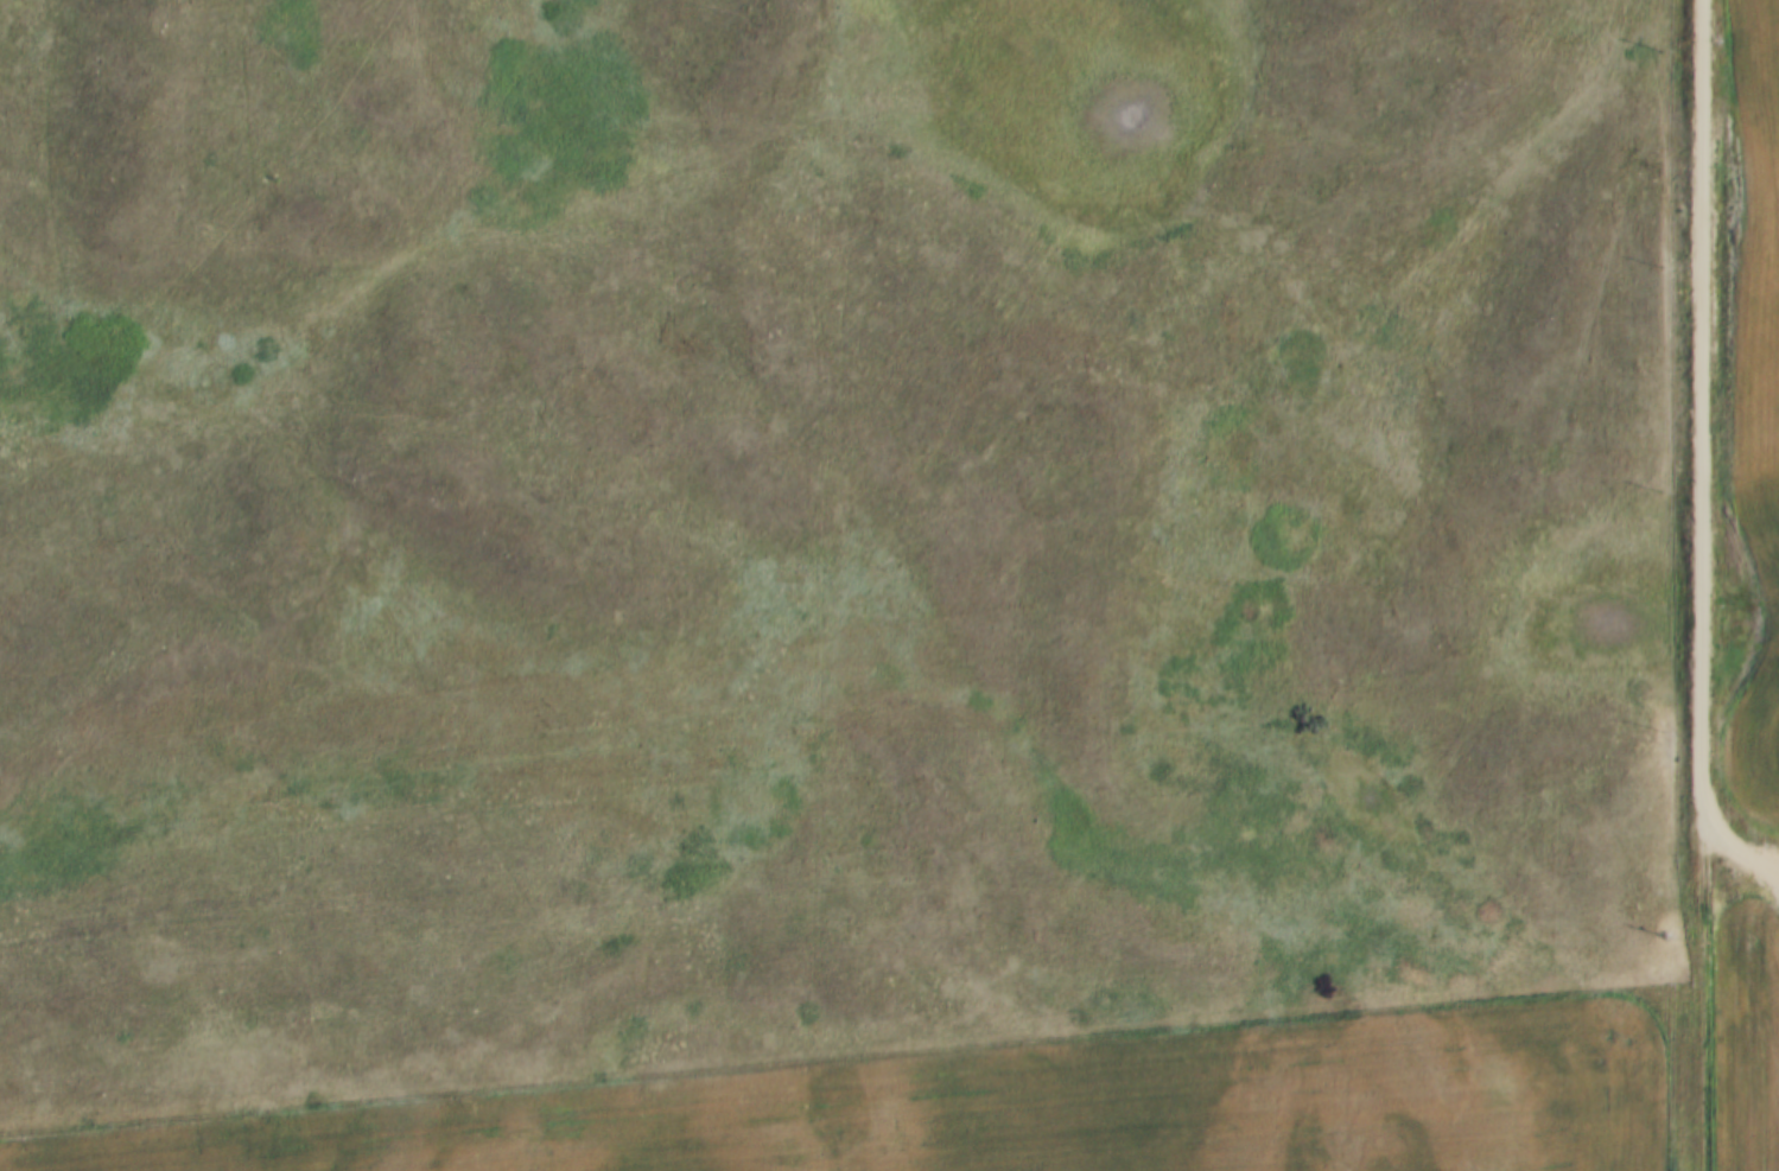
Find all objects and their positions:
road: (1759, 584)

